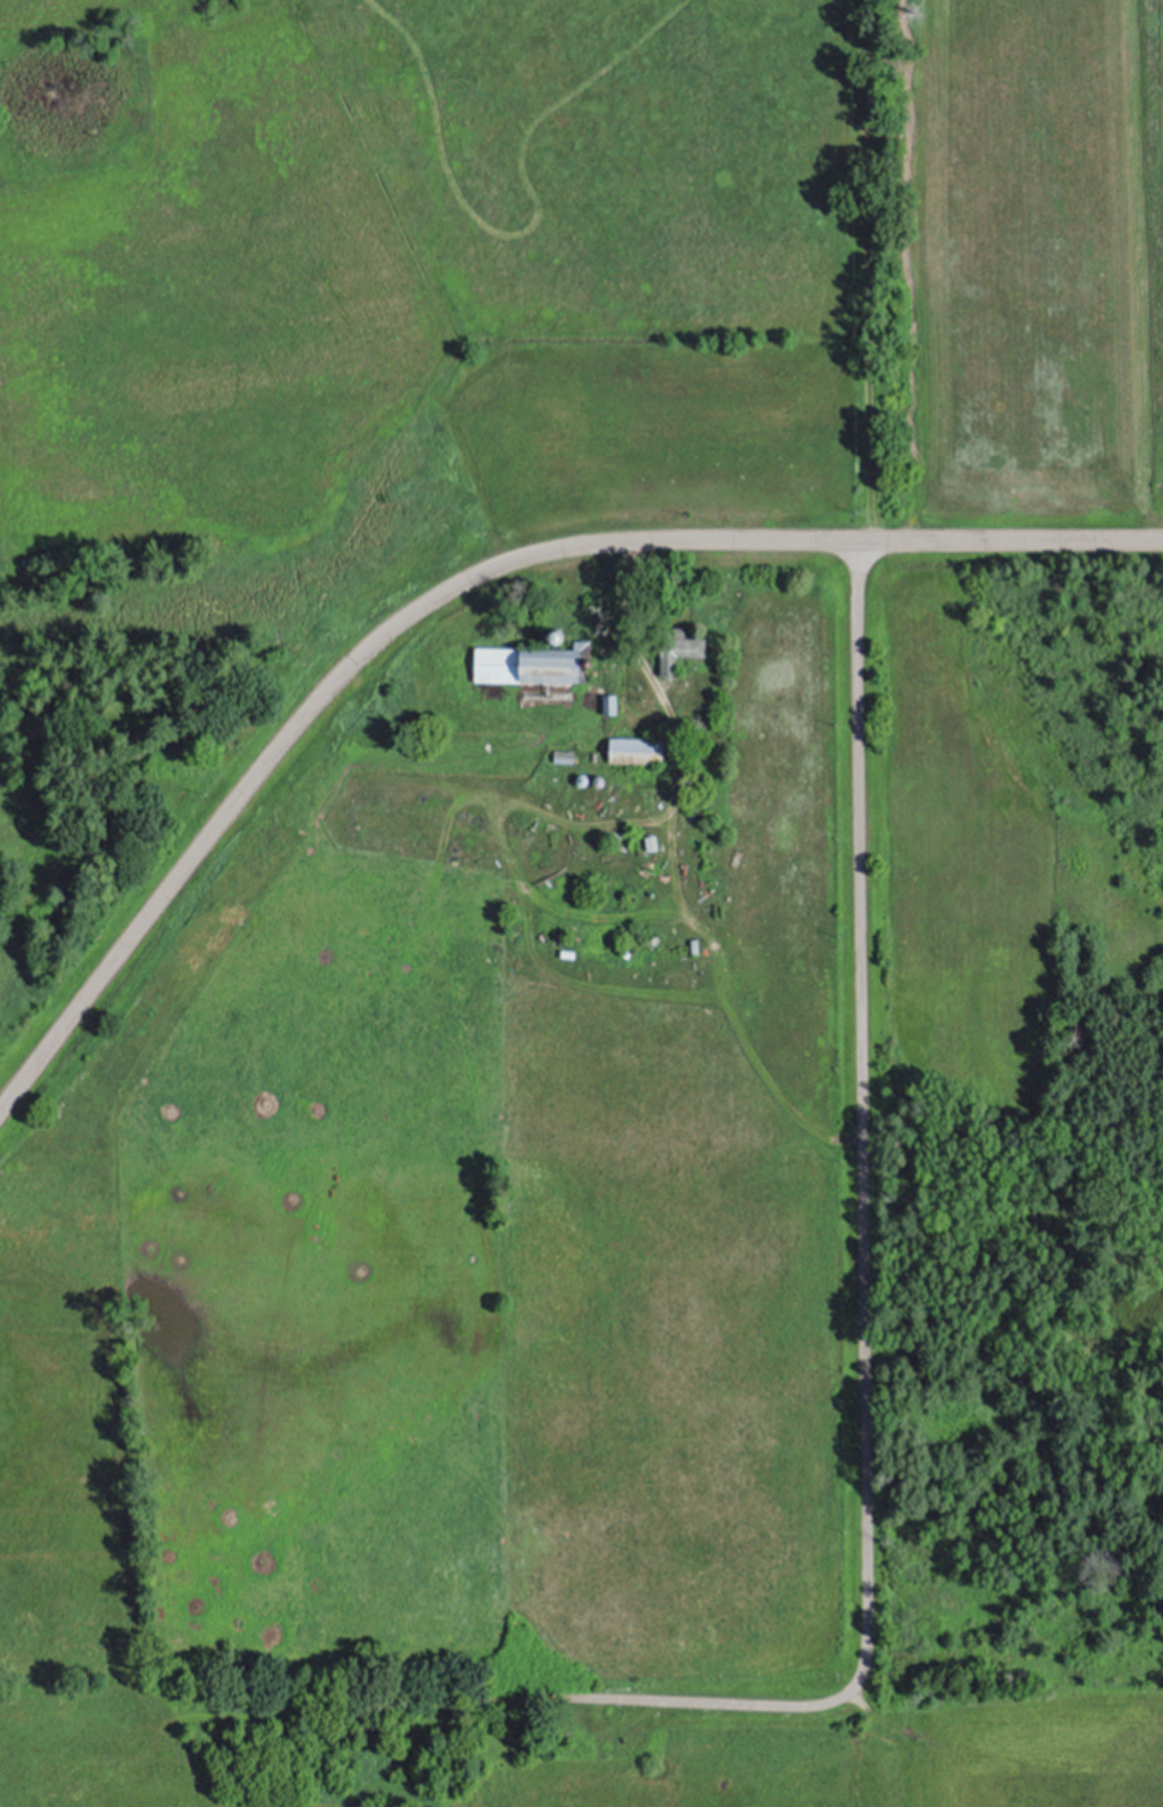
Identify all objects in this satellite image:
road: (464, 583)
building: (677, 651)
building: (529, 665)
building: (634, 751)
road: (676, 875)
road: (864, 1118)
road: (640, 1693)
building: (499, 1720)

